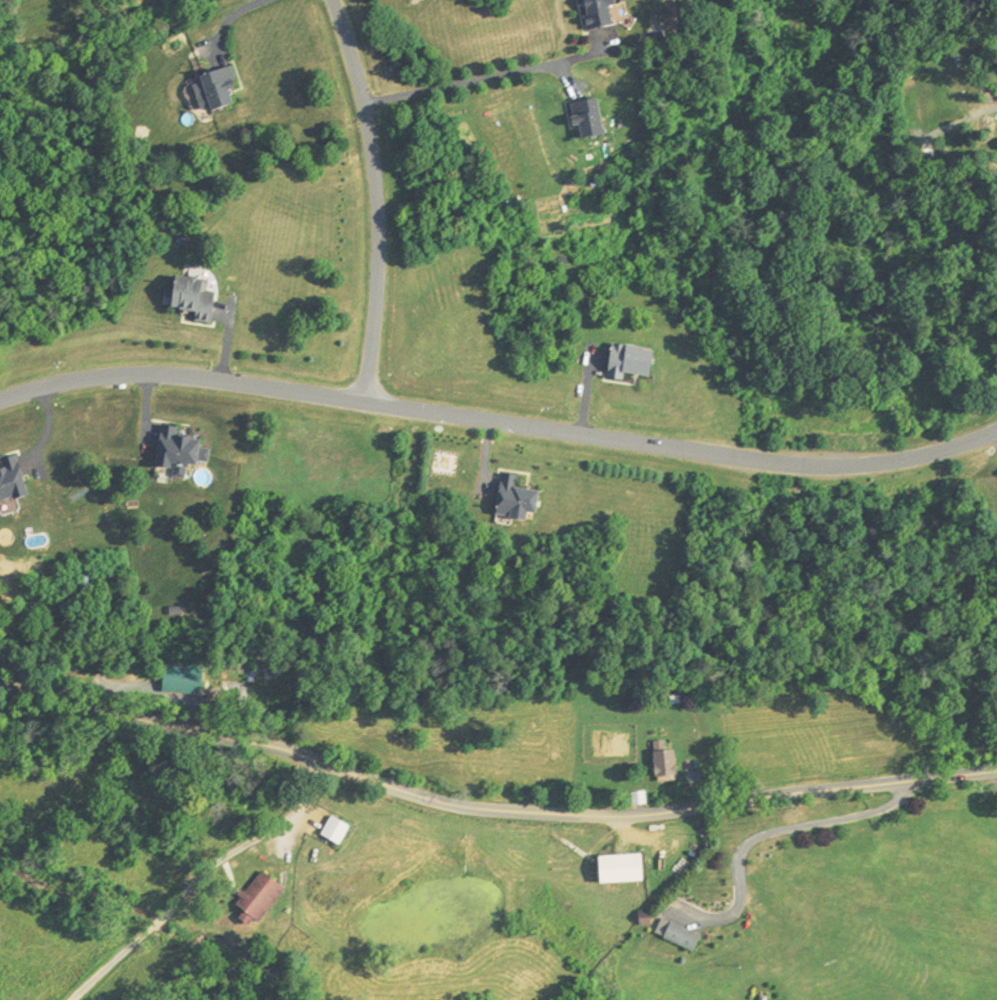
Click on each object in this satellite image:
road: (233, 14)
building: (594, 15)
road: (488, 78)
building: (214, 88)
building: (583, 119)
road: (376, 198)
building: (189, 297)
building: (626, 363)
road: (499, 422)
building: (176, 453)
building: (9, 480)
building: (511, 500)
building: (180, 680)
building: (662, 765)
road: (490, 812)
building: (332, 832)
road: (790, 832)
road: (251, 841)
building: (617, 870)
building: (253, 900)
road: (160, 922)
building: (675, 936)
road: (112, 965)

